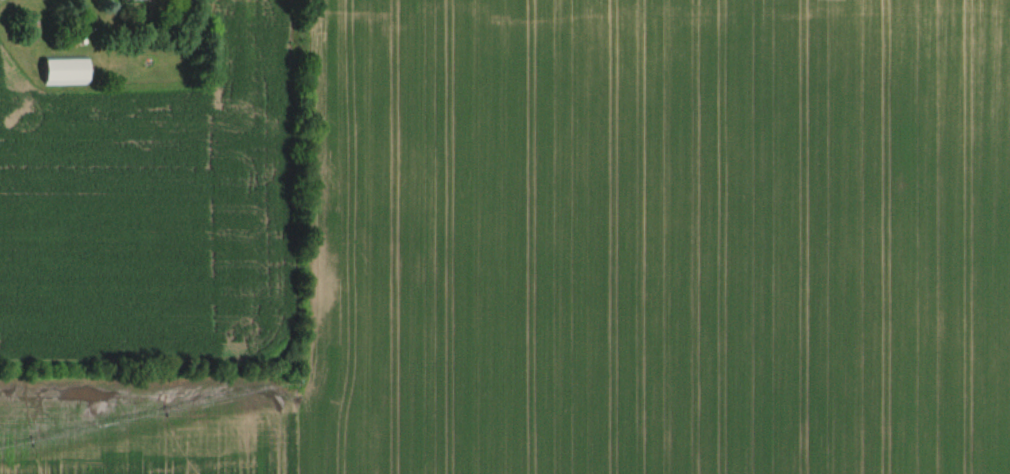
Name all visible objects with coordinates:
building: (135, 0)
building: (64, 72)

